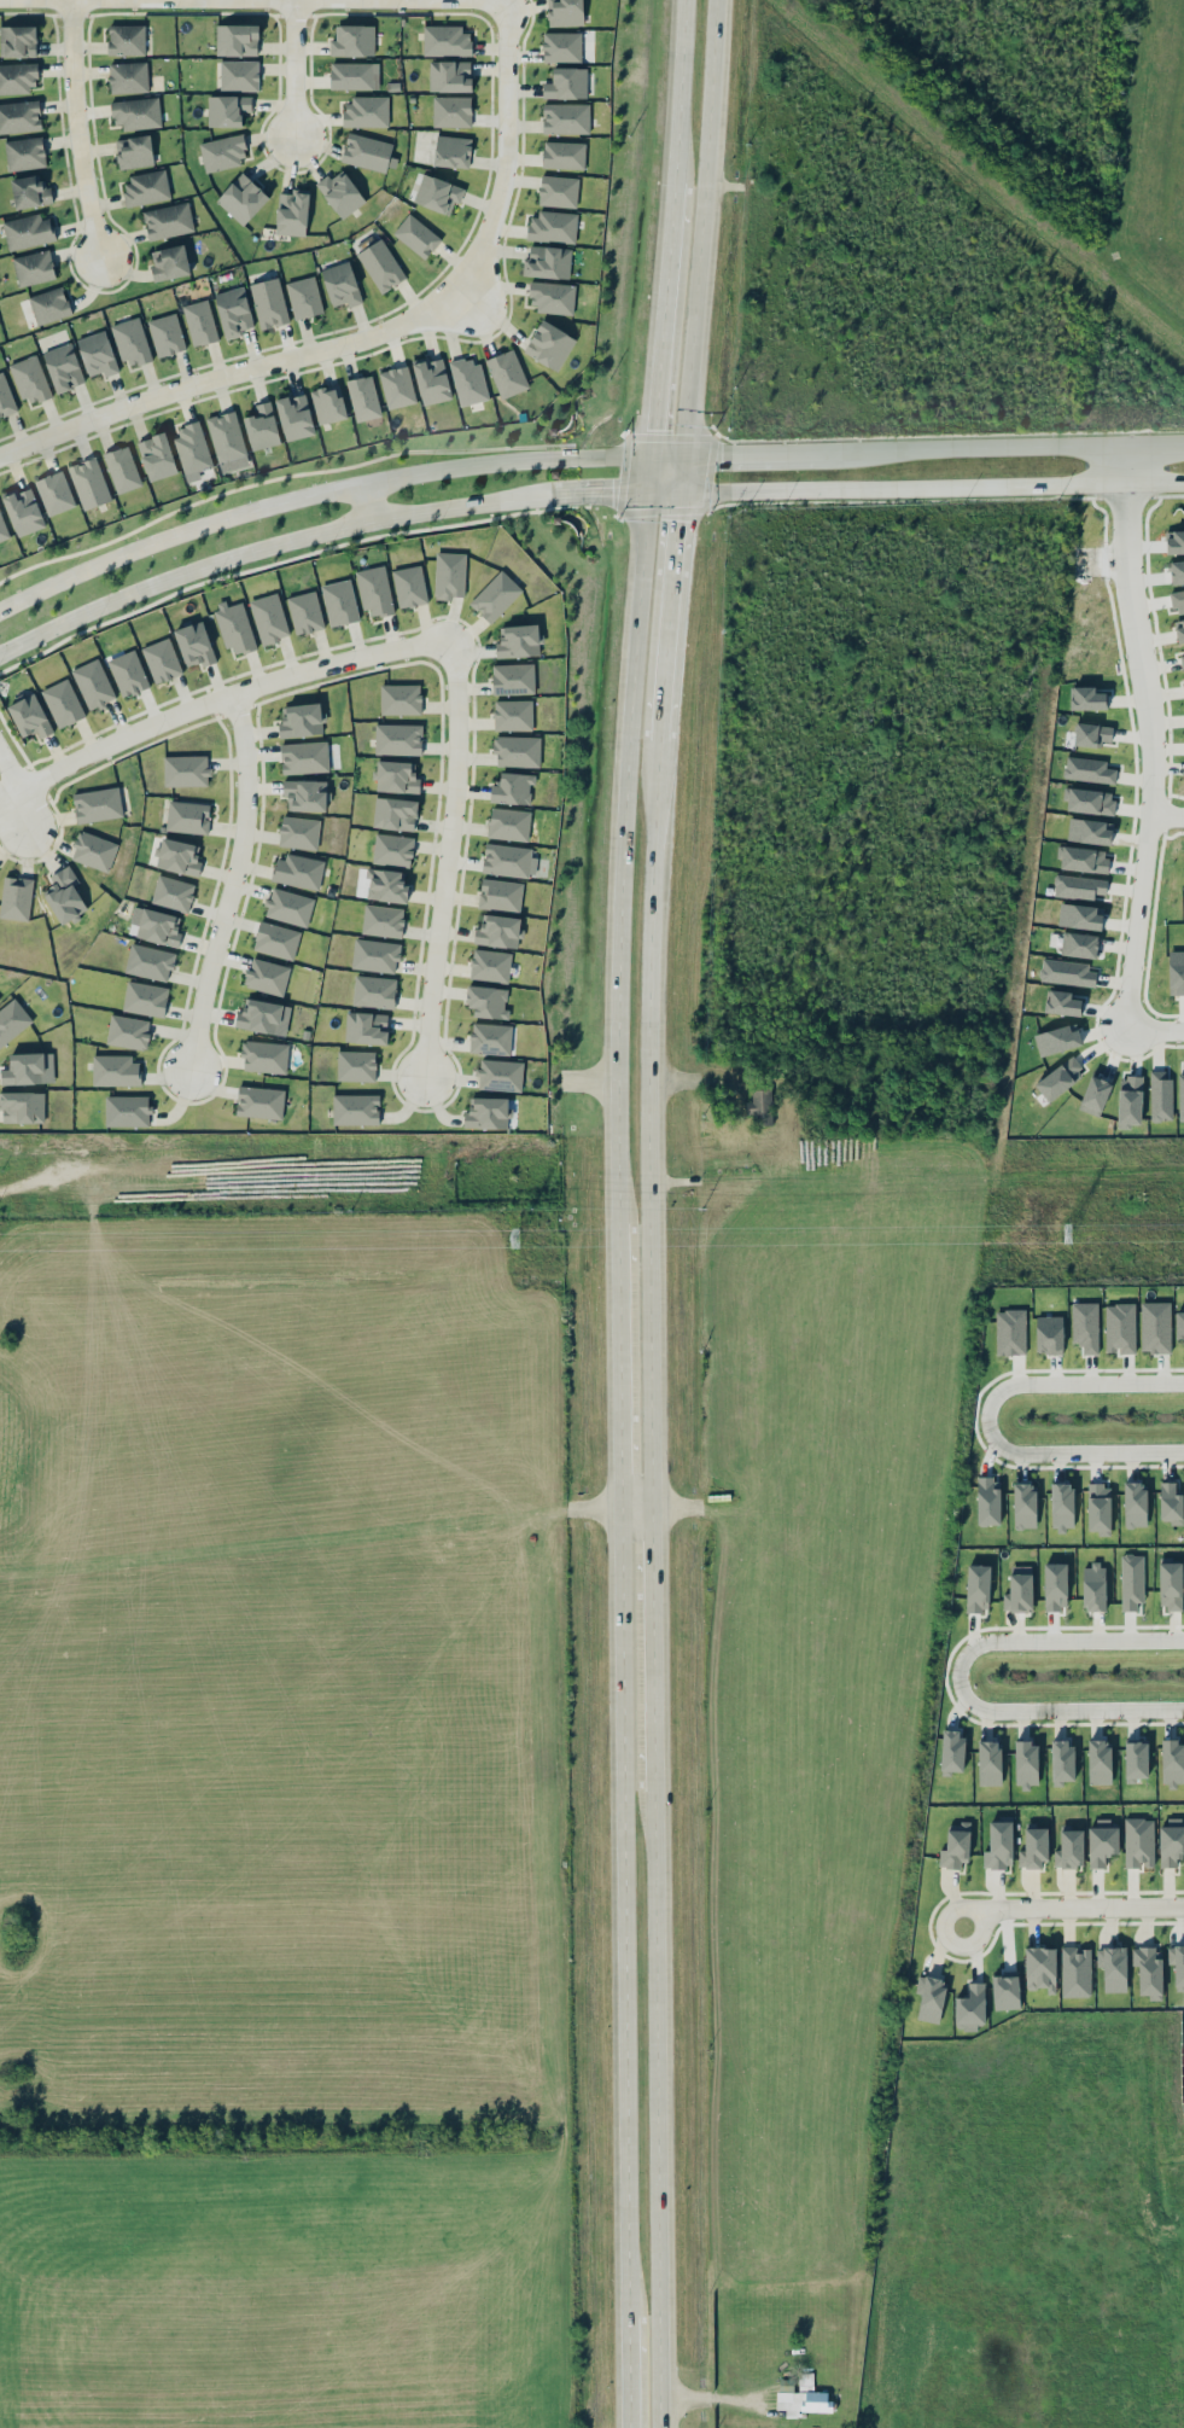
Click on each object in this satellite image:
road: (453, 0)
building: (565, 12)
building: (127, 39)
building: (237, 40)
building: (352, 40)
building: (17, 41)
building: (447, 41)
building: (561, 47)
road: (292, 68)
building: (239, 75)
building: (128, 76)
building: (354, 76)
building: (450, 76)
building: (17, 78)
building: (566, 83)
road: (678, 88)
building: (228, 110)
building: (367, 111)
building: (451, 111)
building: (135, 112)
building: (19, 116)
building: (566, 117)
road: (76, 128)
building: (134, 151)
building: (453, 151)
building: (223, 152)
building: (367, 152)
building: (24, 153)
building: (564, 155)
building: (145, 188)
building: (558, 191)
building: (30, 192)
building: (340, 193)
building: (437, 193)
building: (243, 198)
building: (292, 212)
building: (168, 221)
building: (552, 226)
road: (698, 226)
building: (29, 231)
building: (416, 235)
building: (169, 262)
building: (548, 262)
building: (380, 266)
building: (34, 268)
building: (342, 284)
building: (304, 297)
road: (467, 297)
building: (553, 297)
building: (269, 303)
building: (49, 305)
building: (234, 310)
building: (200, 322)
building: (167, 334)
road: (373, 334)
road: (659, 334)
building: (132, 342)
building: (549, 344)
building: (98, 354)
building: (63, 367)
building: (507, 373)
building: (29, 379)
building: (431, 379)
building: (468, 380)
building: (397, 386)
building: (5, 397)
building: (363, 397)
building: (328, 403)
building: (294, 417)
building: (262, 426)
traffic signals: (652, 430)
building: (228, 441)
road: (1150, 443)
road: (984, 447)
building: (192, 449)
road: (751, 452)
traffic signals: (722, 453)
building: (157, 456)
building: (122, 468)
road: (680, 472)
building: (89, 483)
road: (931, 488)
building: (54, 493)
road: (316, 493)
road: (663, 493)
road: (600, 495)
traffic signals: (613, 495)
road: (363, 501)
building: (23, 510)
traffic signals: (676, 523)
building: (2, 529)
building: (1174, 541)
road: (267, 546)
building: (1177, 571)
building: (450, 575)
building: (409, 586)
building: (374, 590)
building: (495, 595)
building: (1178, 600)
building: (339, 602)
building: (305, 612)
road: (667, 615)
building: (269, 618)
building: (235, 628)
building: (1179, 629)
building: (518, 640)
building: (194, 644)
road: (1136, 646)
building: (162, 660)
building: (1182, 662)
building: (128, 672)
building: (513, 679)
building: (93, 683)
road: (217, 695)
building: (1086, 698)
building: (401, 699)
building: (63, 703)
building: (513, 715)
building: (30, 716)
building: (302, 720)
building: (1092, 734)
building: (398, 739)
building: (517, 751)
building: (304, 757)
building: (1089, 769)
building: (186, 770)
road: (6, 774)
building: (397, 776)
building: (513, 788)
road: (2, 793)
building: (305, 794)
building: (1089, 800)
building: (97, 804)
road: (14, 810)
building: (395, 813)
building: (187, 816)
building: (508, 823)
building: (1090, 831)
building: (299, 832)
building: (392, 849)
building: (93, 850)
road: (444, 856)
road: (619, 856)
building: (179, 857)
building: (1083, 858)
building: (508, 860)
building: (298, 871)
road: (229, 880)
building: (386, 885)
building: (1079, 886)
building: (173, 892)
building: (64, 895)
building: (500, 895)
building: (16, 897)
building: (288, 907)
building: (1080, 915)
building: (383, 920)
building: (154, 926)
building: (498, 931)
building: (275, 939)
building: (1079, 944)
building: (375, 955)
road: (1131, 960)
building: (150, 962)
building: (490, 965)
building: (1067, 972)
building: (1176, 972)
building: (266, 976)
building: (374, 991)
building: (145, 998)
building: (488, 1001)
building: (1062, 1002)
building: (263, 1015)
building: (12, 1020)
building: (366, 1027)
building: (128, 1031)
building: (490, 1038)
building: (1057, 1040)
building: (264, 1056)
building: (356, 1065)
building: (29, 1069)
building: (115, 1070)
building: (500, 1075)
building: (1060, 1078)
building: (1095, 1095)
building: (1160, 1095)
building: (1180, 1097)
building: (1130, 1099)
building: (259, 1101)
building: (22, 1106)
building: (760, 1106)
building: (356, 1108)
building: (127, 1111)
building: (488, 1112)
road: (643, 1119)
power tower: (1069, 1238)
power tower: (518, 1241)
building: (1179, 1324)
building: (1085, 1326)
building: (1120, 1327)
building: (1155, 1327)
building: (1010, 1332)
building: (1049, 1334)
road: (616, 1361)
road: (986, 1422)
building: (988, 1501)
road: (631, 1502)
building: (1135, 1503)
building: (1170, 1503)
building: (1025, 1504)
building: (1062, 1506)
building: (1098, 1508)
building: (1131, 1582)
building: (1055, 1585)
building: (1170, 1585)
building: (1093, 1586)
building: (978, 1588)
building: (1019, 1589)
road: (648, 1646)
road: (955, 1675)
building: (951, 1751)
building: (1062, 1760)
building: (1136, 1760)
building: (990, 1762)
building: (1100, 1762)
building: (1173, 1763)
building: (1026, 1764)
building: (1171, 1841)
building: (1102, 1842)
building: (1138, 1842)
building: (956, 1845)
building: (998, 1845)
building: (1069, 1847)
building: (1033, 1848)
road: (620, 1906)
road: (1071, 1906)
building: (1177, 1966)
building: (1113, 1967)
building: (1040, 1968)
building: (1149, 1970)
building: (1075, 1972)
building: (929, 1997)
building: (970, 2007)
road: (653, 2108)
road: (625, 2370)
building: (807, 2400)

